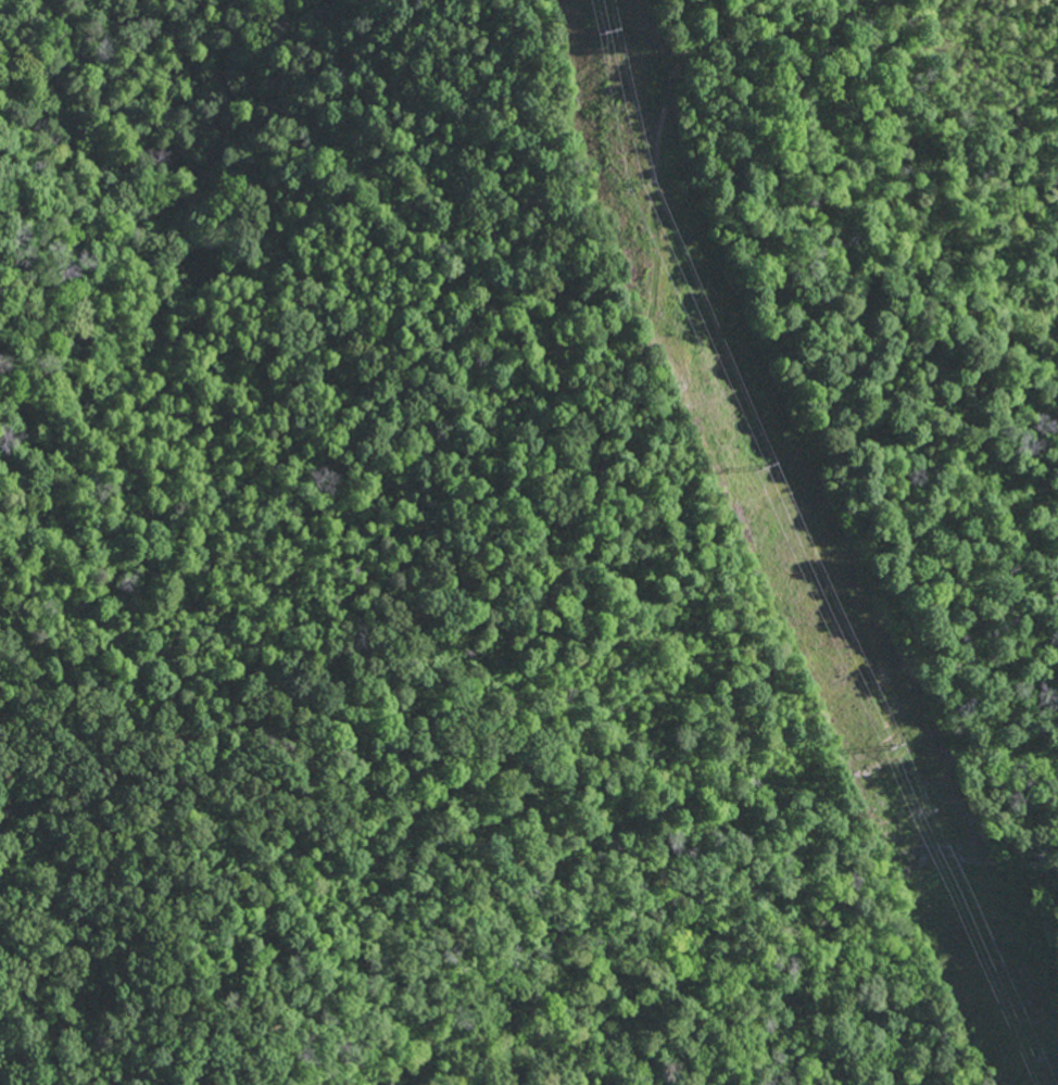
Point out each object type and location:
power tower: (613, 29)
power tower: (910, 749)

